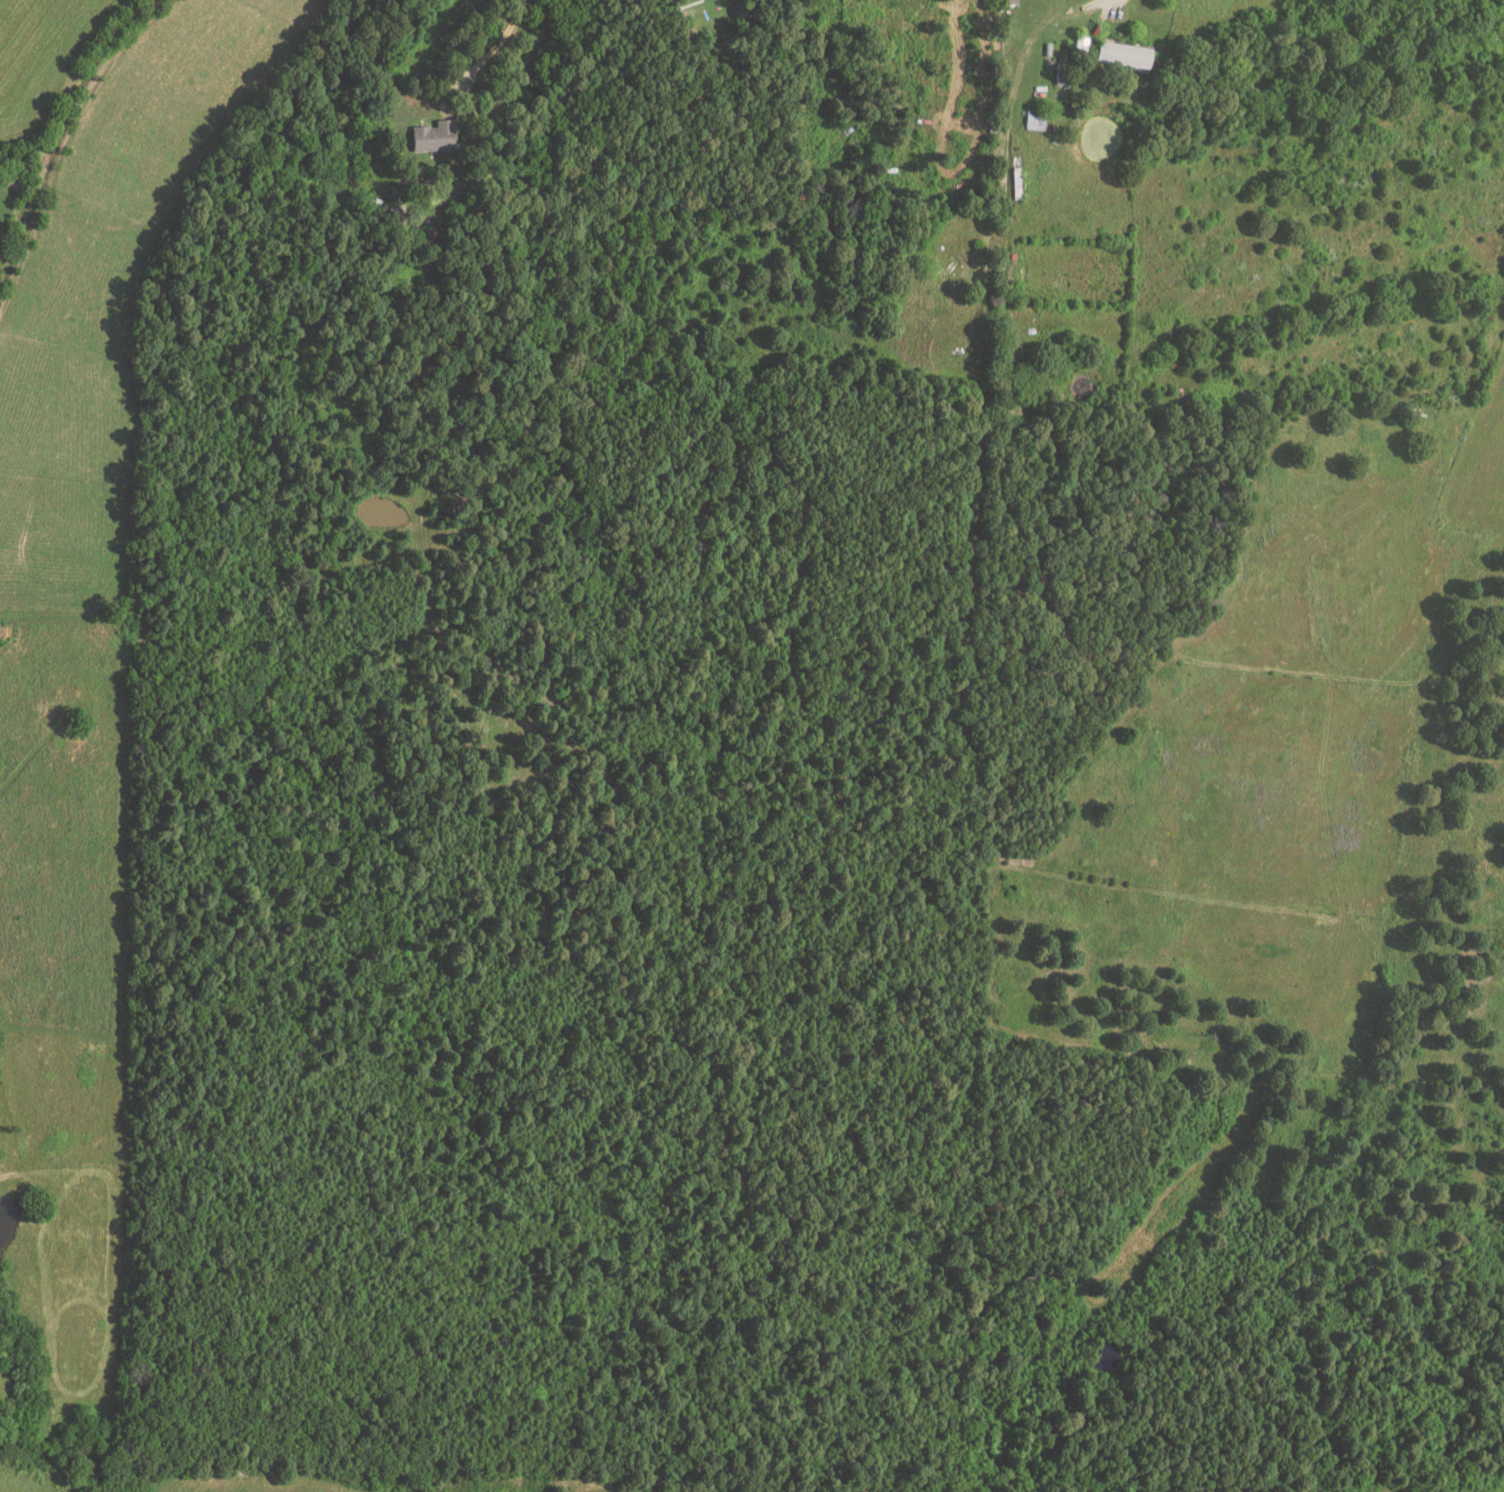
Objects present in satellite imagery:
road: (488, 47)
building: (1123, 55)
building: (1035, 120)
road: (1002, 134)
building: (434, 135)

